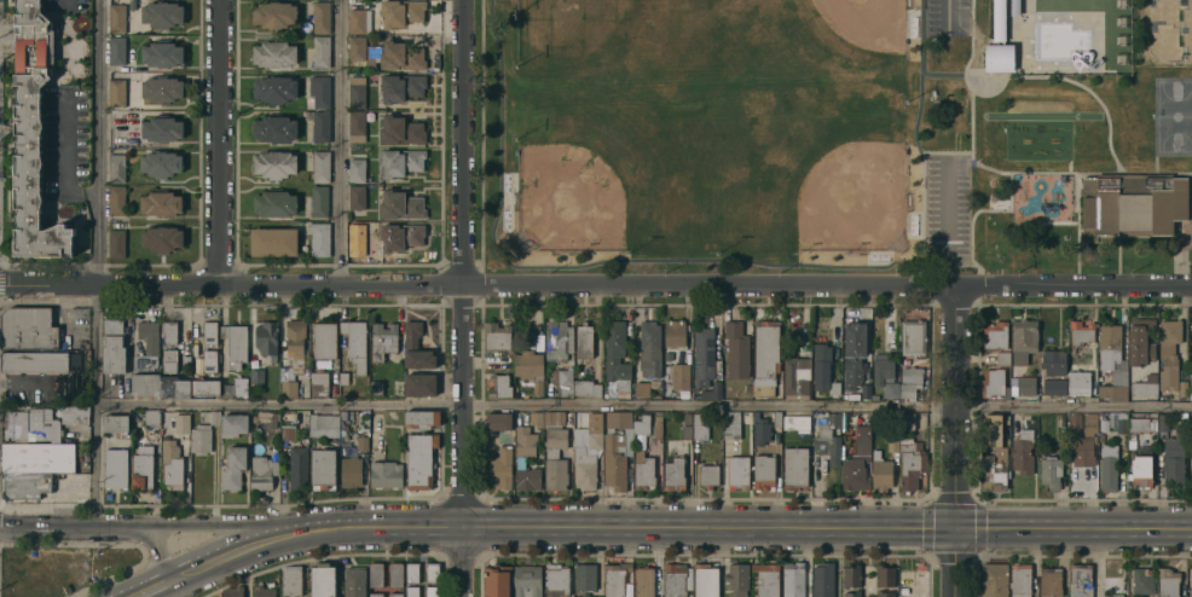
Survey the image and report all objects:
road: (65, 0)
building: (400, 12)
building: (162, 13)
building: (273, 13)
road: (947, 15)
building: (116, 17)
building: (322, 17)
building: (359, 19)
park: (1170, 29)
building: (999, 44)
building: (357, 47)
building: (31, 50)
building: (116, 50)
building: (320, 51)
building: (162, 52)
building: (274, 53)
building: (371, 54)
building: (401, 54)
building: (401, 86)
building: (161, 88)
building: (274, 88)
building: (319, 89)
building: (355, 91)
building: (116, 92)
building: (320, 126)
building: (357, 126)
building: (161, 127)
building: (274, 127)
building: (401, 129)
park: (835, 134)
road: (342, 141)
road: (216, 143)
building: (401, 161)
building: (161, 162)
building: (274, 163)
road: (63, 166)
building: (320, 166)
building: (116, 167)
building: (355, 169)
building: (33, 190)
building: (357, 196)
building: (116, 198)
building: (319, 199)
building: (161, 202)
building: (274, 202)
building: (1132, 203)
building: (400, 204)
road: (948, 222)
building: (400, 234)
building: (161, 237)
building: (319, 237)
building: (273, 240)
building: (116, 242)
building: (357, 243)
road: (97, 263)
road: (595, 283)
road: (462, 298)
building: (28, 328)
building: (169, 331)
building: (209, 331)
building: (224, 331)
building: (673, 331)
building: (1081, 331)
building: (995, 334)
building: (497, 335)
building: (913, 336)
building: (266, 337)
building: (295, 337)
building: (1023, 338)
building: (324, 340)
building: (382, 340)
building: (557, 340)
building: (584, 340)
building: (1140, 341)
building: (355, 342)
building: (112, 344)
building: (146, 344)
building: (237, 344)
building: (650, 344)
building: (416, 346)
building: (306, 347)
building: (736, 348)
building: (766, 349)
building: (854, 353)
building: (1170, 354)
building: (617, 355)
building: (702, 355)
building: (1002, 357)
building: (33, 360)
building: (75, 360)
building: (209, 360)
building: (1053, 360)
building: (1113, 360)
building: (306, 361)
building: (821, 365)
building: (185, 366)
building: (530, 369)
building: (883, 371)
building: (256, 375)
building: (681, 375)
building: (666, 376)
building: (795, 376)
building: (173, 377)
building: (343, 377)
building: (562, 379)
building: (909, 379)
building: (1191, 379)
building: (1078, 382)
building: (145, 383)
building: (318, 383)
building: (419, 383)
building: (994, 383)
building: (1025, 383)
building: (206, 386)
building: (239, 386)
building: (499, 386)
building: (1054, 386)
building: (376, 387)
building: (586, 387)
building: (644, 387)
building: (834, 387)
building: (288, 388)
building: (399, 388)
building: (1144, 388)
building: (226, 389)
building: (712, 389)
building: (763, 389)
building: (889, 389)
building: (866, 390)
building: (1191, 392)
building: (684, 393)
building: (854, 395)
road: (642, 405)
road: (956, 407)
building: (76, 413)
building: (151, 416)
building: (214, 416)
building: (343, 416)
building: (422, 417)
building: (536, 417)
building: (554, 417)
building: (267, 418)
building: (618, 418)
building: (777, 418)
building: (1090, 418)
building: (498, 421)
building: (907, 421)
building: (797, 422)
building: (1122, 422)
building: (1163, 422)
building: (33, 423)
building: (115, 423)
building: (181, 423)
building: (233, 423)
building: (324, 424)
building: (642, 424)
building: (656, 425)
building: (700, 425)
building: (1136, 427)
building: (731, 429)
building: (760, 429)
building: (685, 431)
building: (288, 433)
building: (827, 434)
building: (592, 436)
building: (201, 437)
building: (555, 440)
building: (861, 440)
building: (1081, 441)
building: (361, 442)
building: (892, 444)
building: (1023, 451)
building: (876, 454)
building: (993, 454)
building: (36, 457)
building: (1174, 457)
building: (419, 459)
building: (520, 462)
building: (625, 462)
building: (910, 463)
building: (172, 464)
building: (323, 465)
building: (500, 465)
building: (115, 466)
building: (233, 466)
building: (297, 466)
building: (794, 466)
building: (1107, 466)
building: (584, 468)
building: (1141, 469)
building: (141, 470)
building: (739, 470)
building: (262, 471)
building: (351, 471)
building: (764, 471)
building: (1051, 471)
building: (384, 473)
building: (881, 473)
building: (555, 474)
building: (675, 474)
building: (707, 474)
building: (854, 474)
building: (25, 485)
road: (224, 524)
road: (754, 527)
road: (64, 528)
road: (158, 545)
road: (244, 547)
road: (1098, 562)
road: (956, 563)
building: (412, 570)
building: (430, 572)
building: (375, 573)
building: (395, 573)
building: (851, 574)
building: (885, 574)
building: (1190, 575)
building: (585, 576)
building: (615, 578)
building: (323, 579)
building: (736, 579)
building: (766, 579)
building: (793, 579)
building: (822, 579)
building: (1019, 579)
building: (291, 580)
building: (527, 580)
building: (677, 580)
building: (705, 580)
building: (994, 580)
building: (1080, 580)
building: (354, 581)
building: (497, 581)
building: (556, 581)
building: (643, 581)
building: (1049, 581)
building: (1142, 581)
building: (1168, 581)
road: (154, 587)
building: (412, 590)
building: (232, 591)
building: (265, 591)
building: (432, 591)
building: (852, 593)
building: (885, 593)
building: (375, 595)
building: (395, 595)
building: (586, 595)
building: (1115, 595)
building: (1191, 596)

